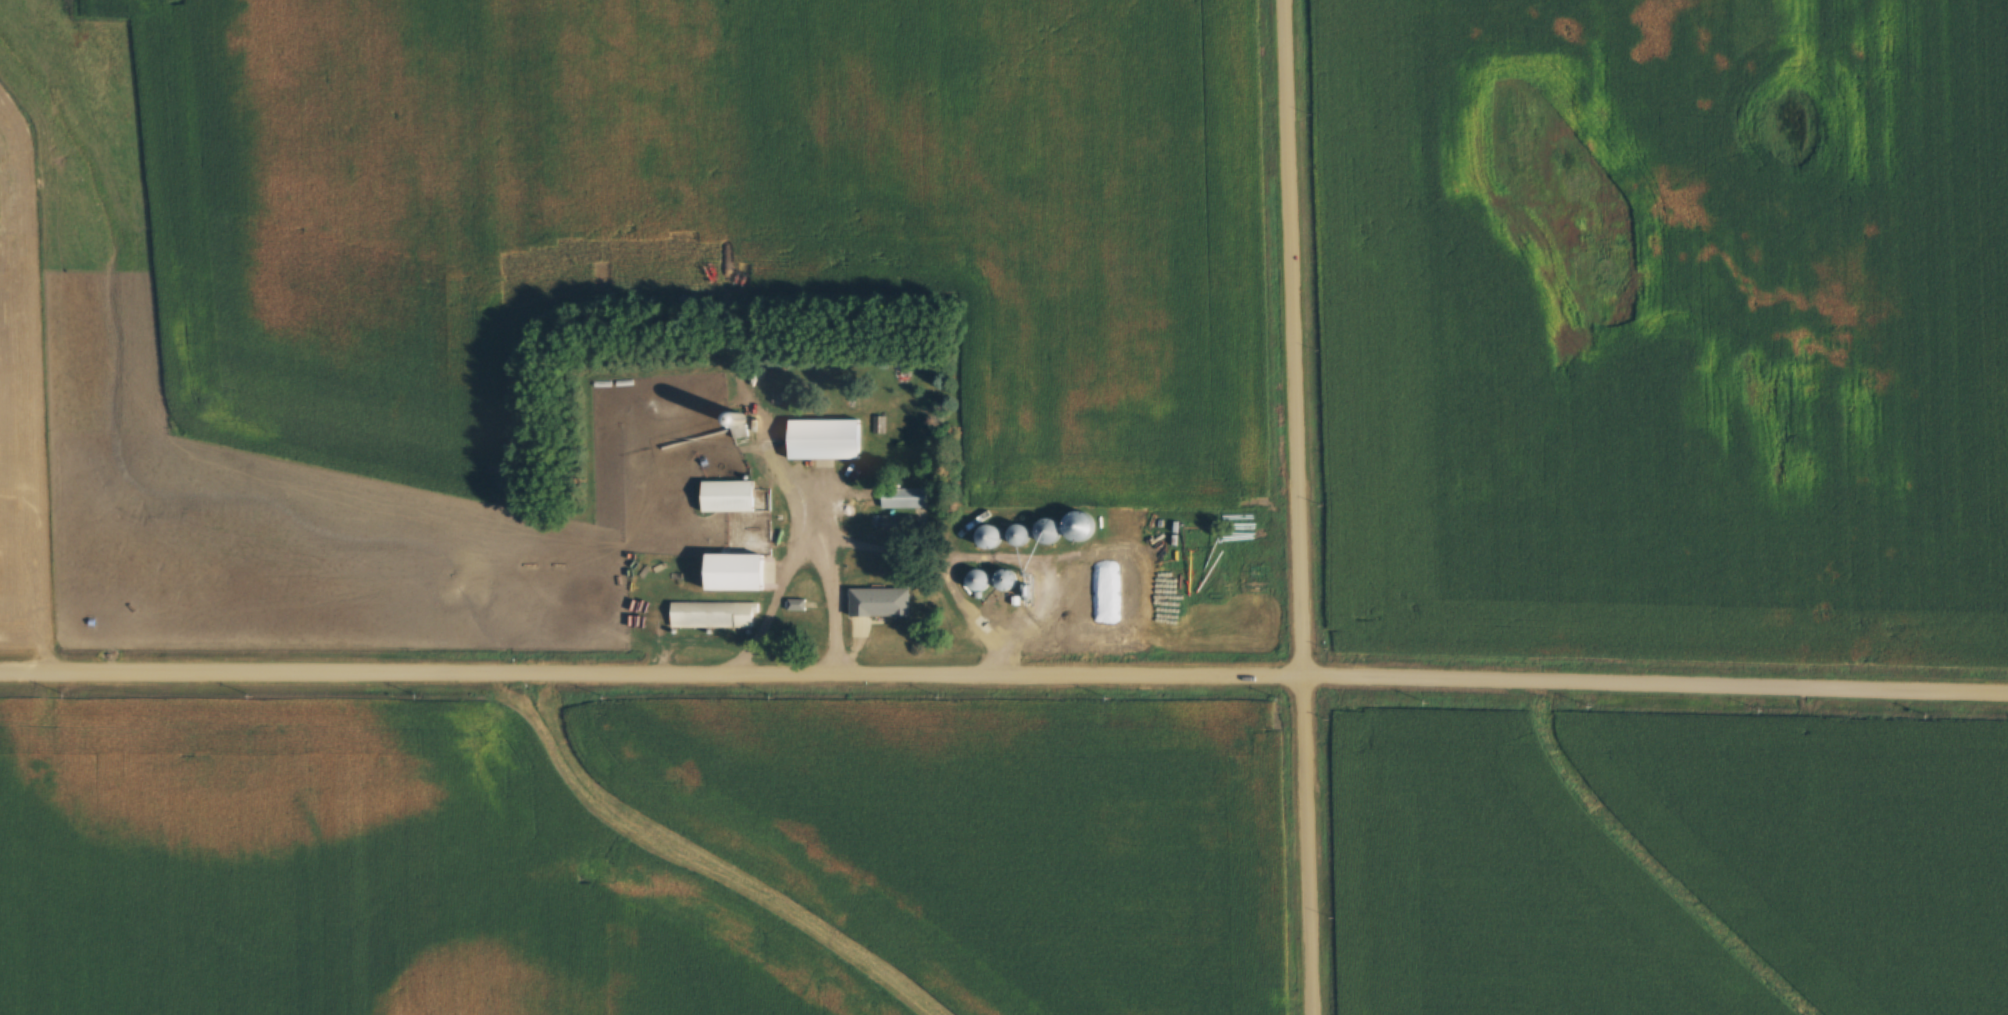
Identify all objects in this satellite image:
building: (828, 439)
road: (791, 486)
building: (904, 497)
building: (732, 505)
road: (1297, 507)
building: (893, 522)
building: (1085, 525)
building: (1052, 529)
building: (1024, 533)
building: (994, 536)
road: (800, 550)
building: (737, 572)
building: (982, 580)
building: (1008, 580)
building: (882, 602)
building: (713, 614)
road: (1004, 676)

